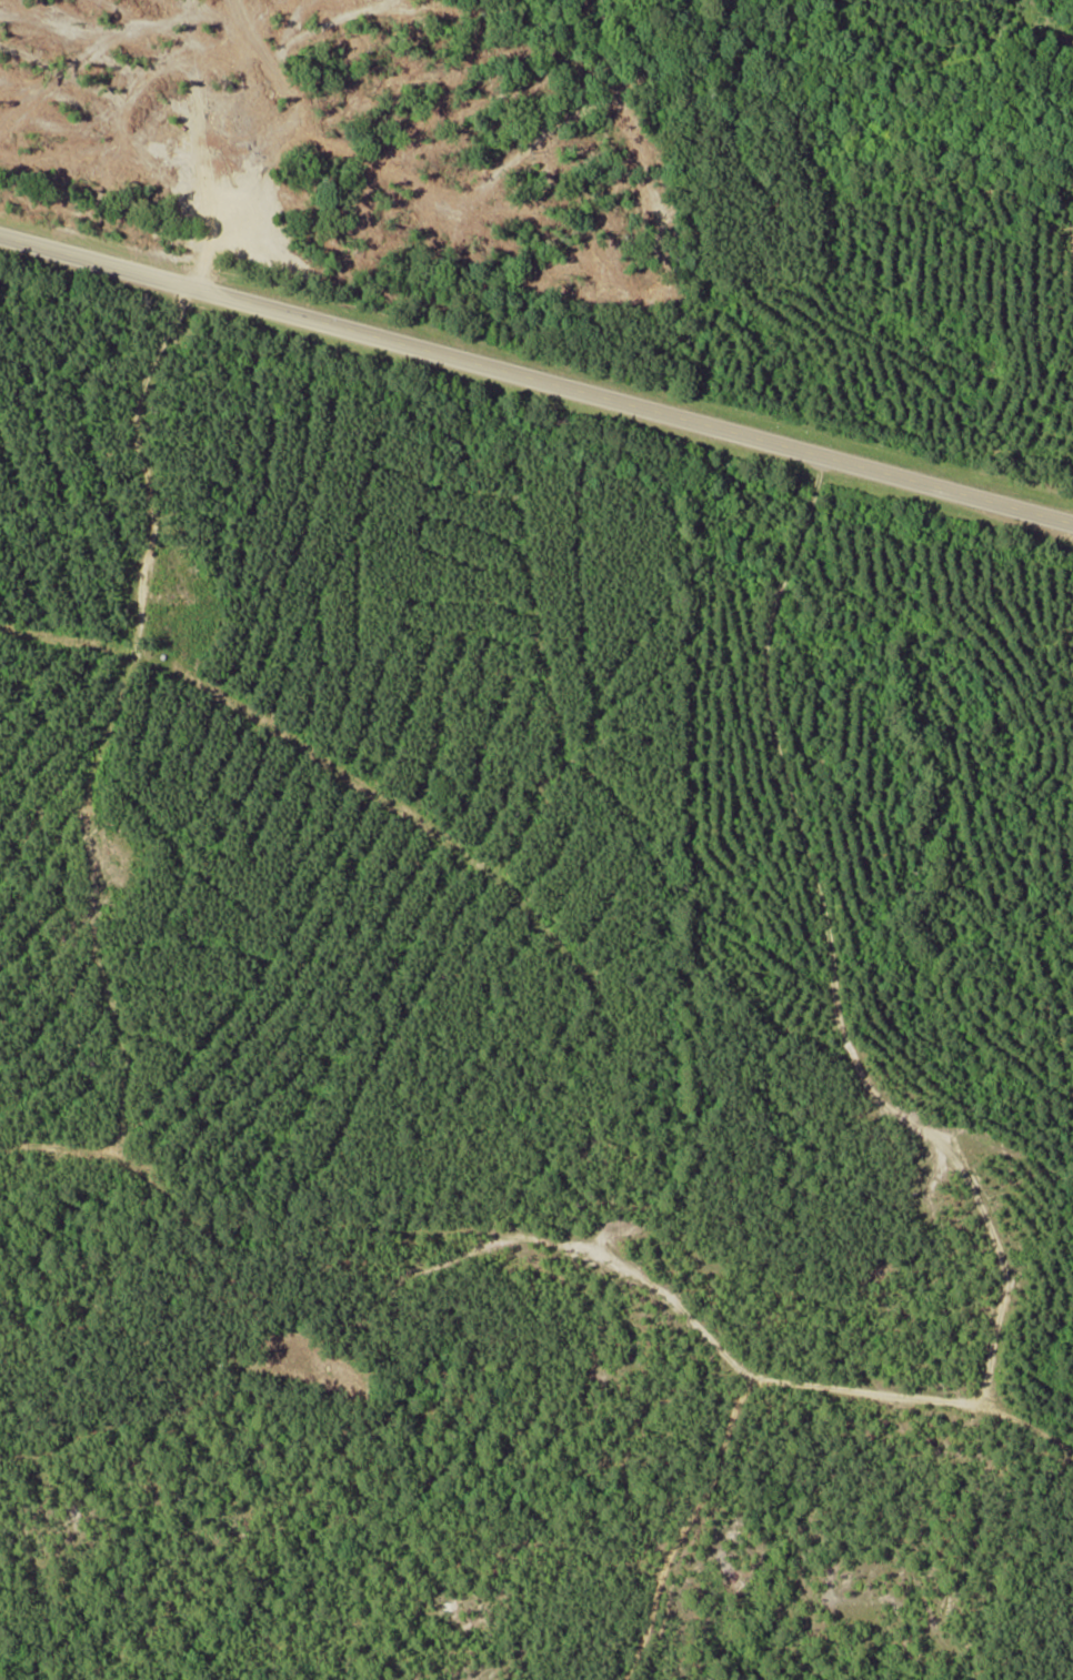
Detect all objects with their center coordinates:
road: (536, 376)

